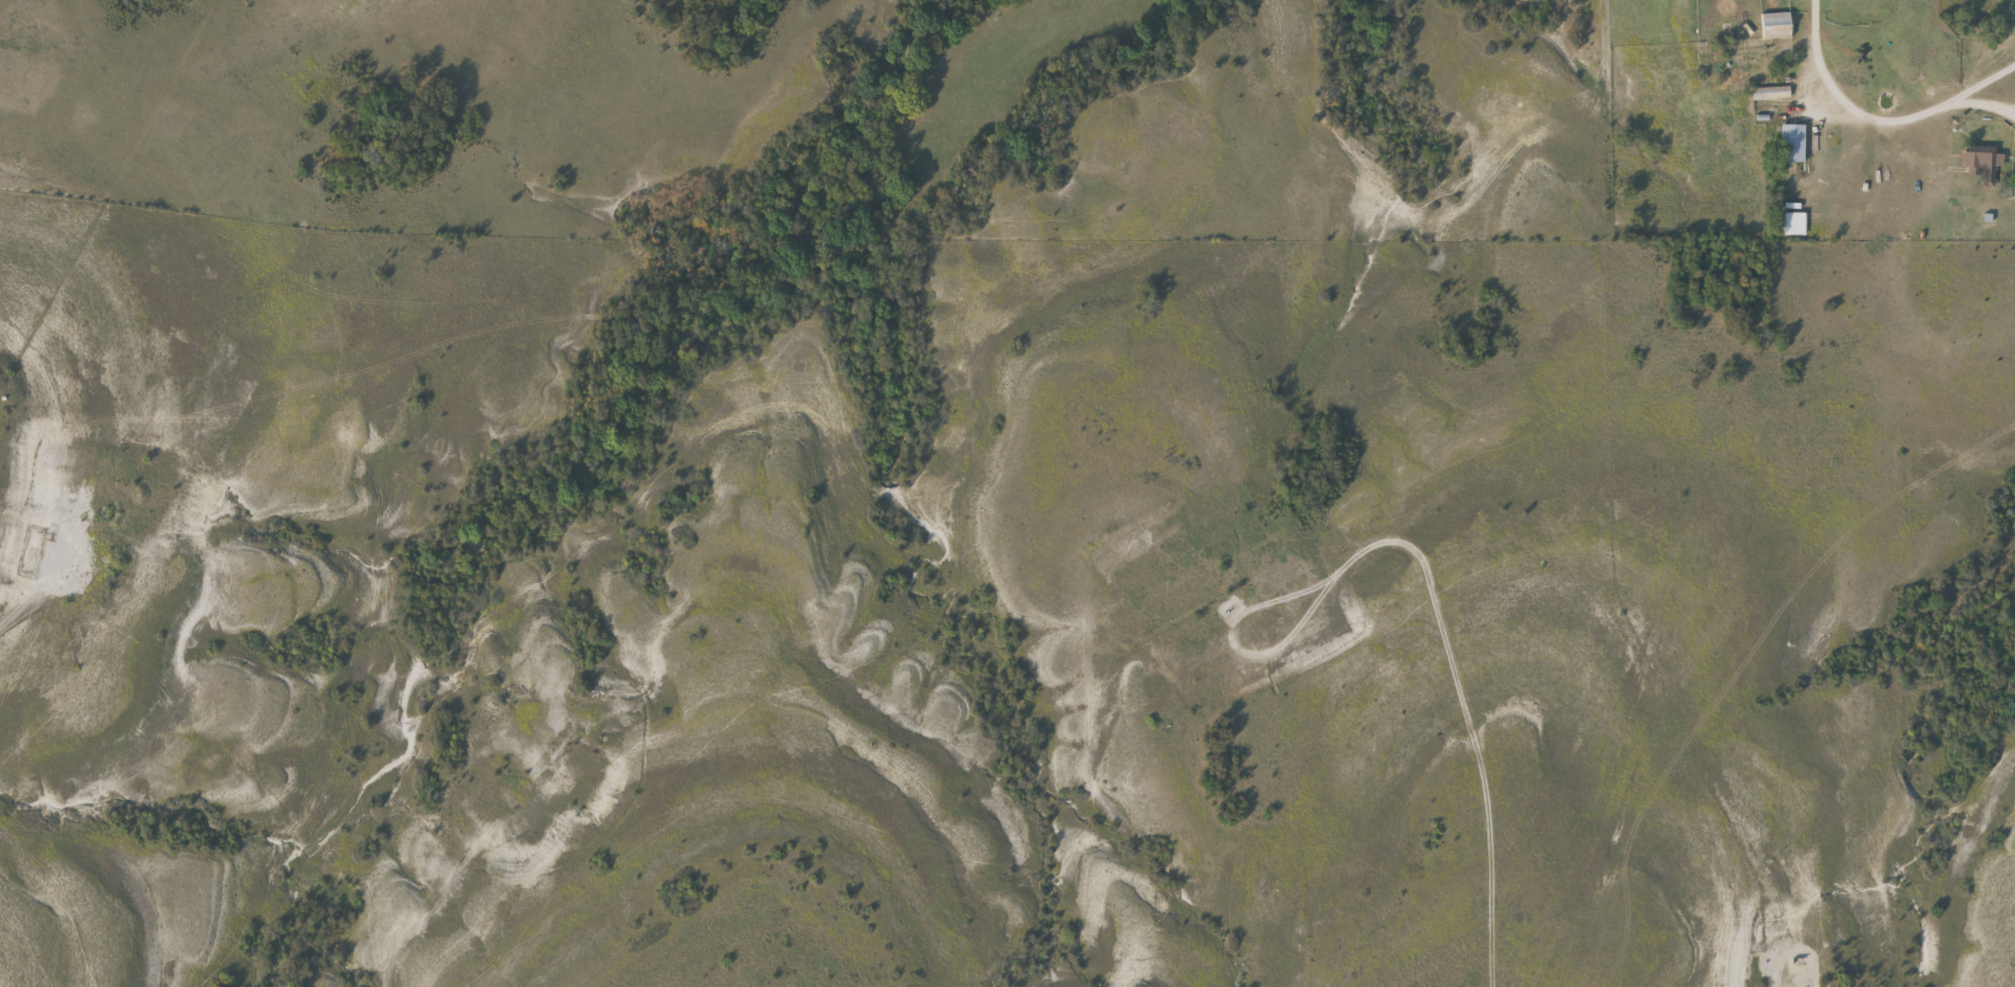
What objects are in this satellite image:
building: (1772, 26)
building: (1769, 95)
road: (1987, 111)
road: (1873, 124)
building: (1789, 144)
building: (1979, 163)
building: (1792, 225)

